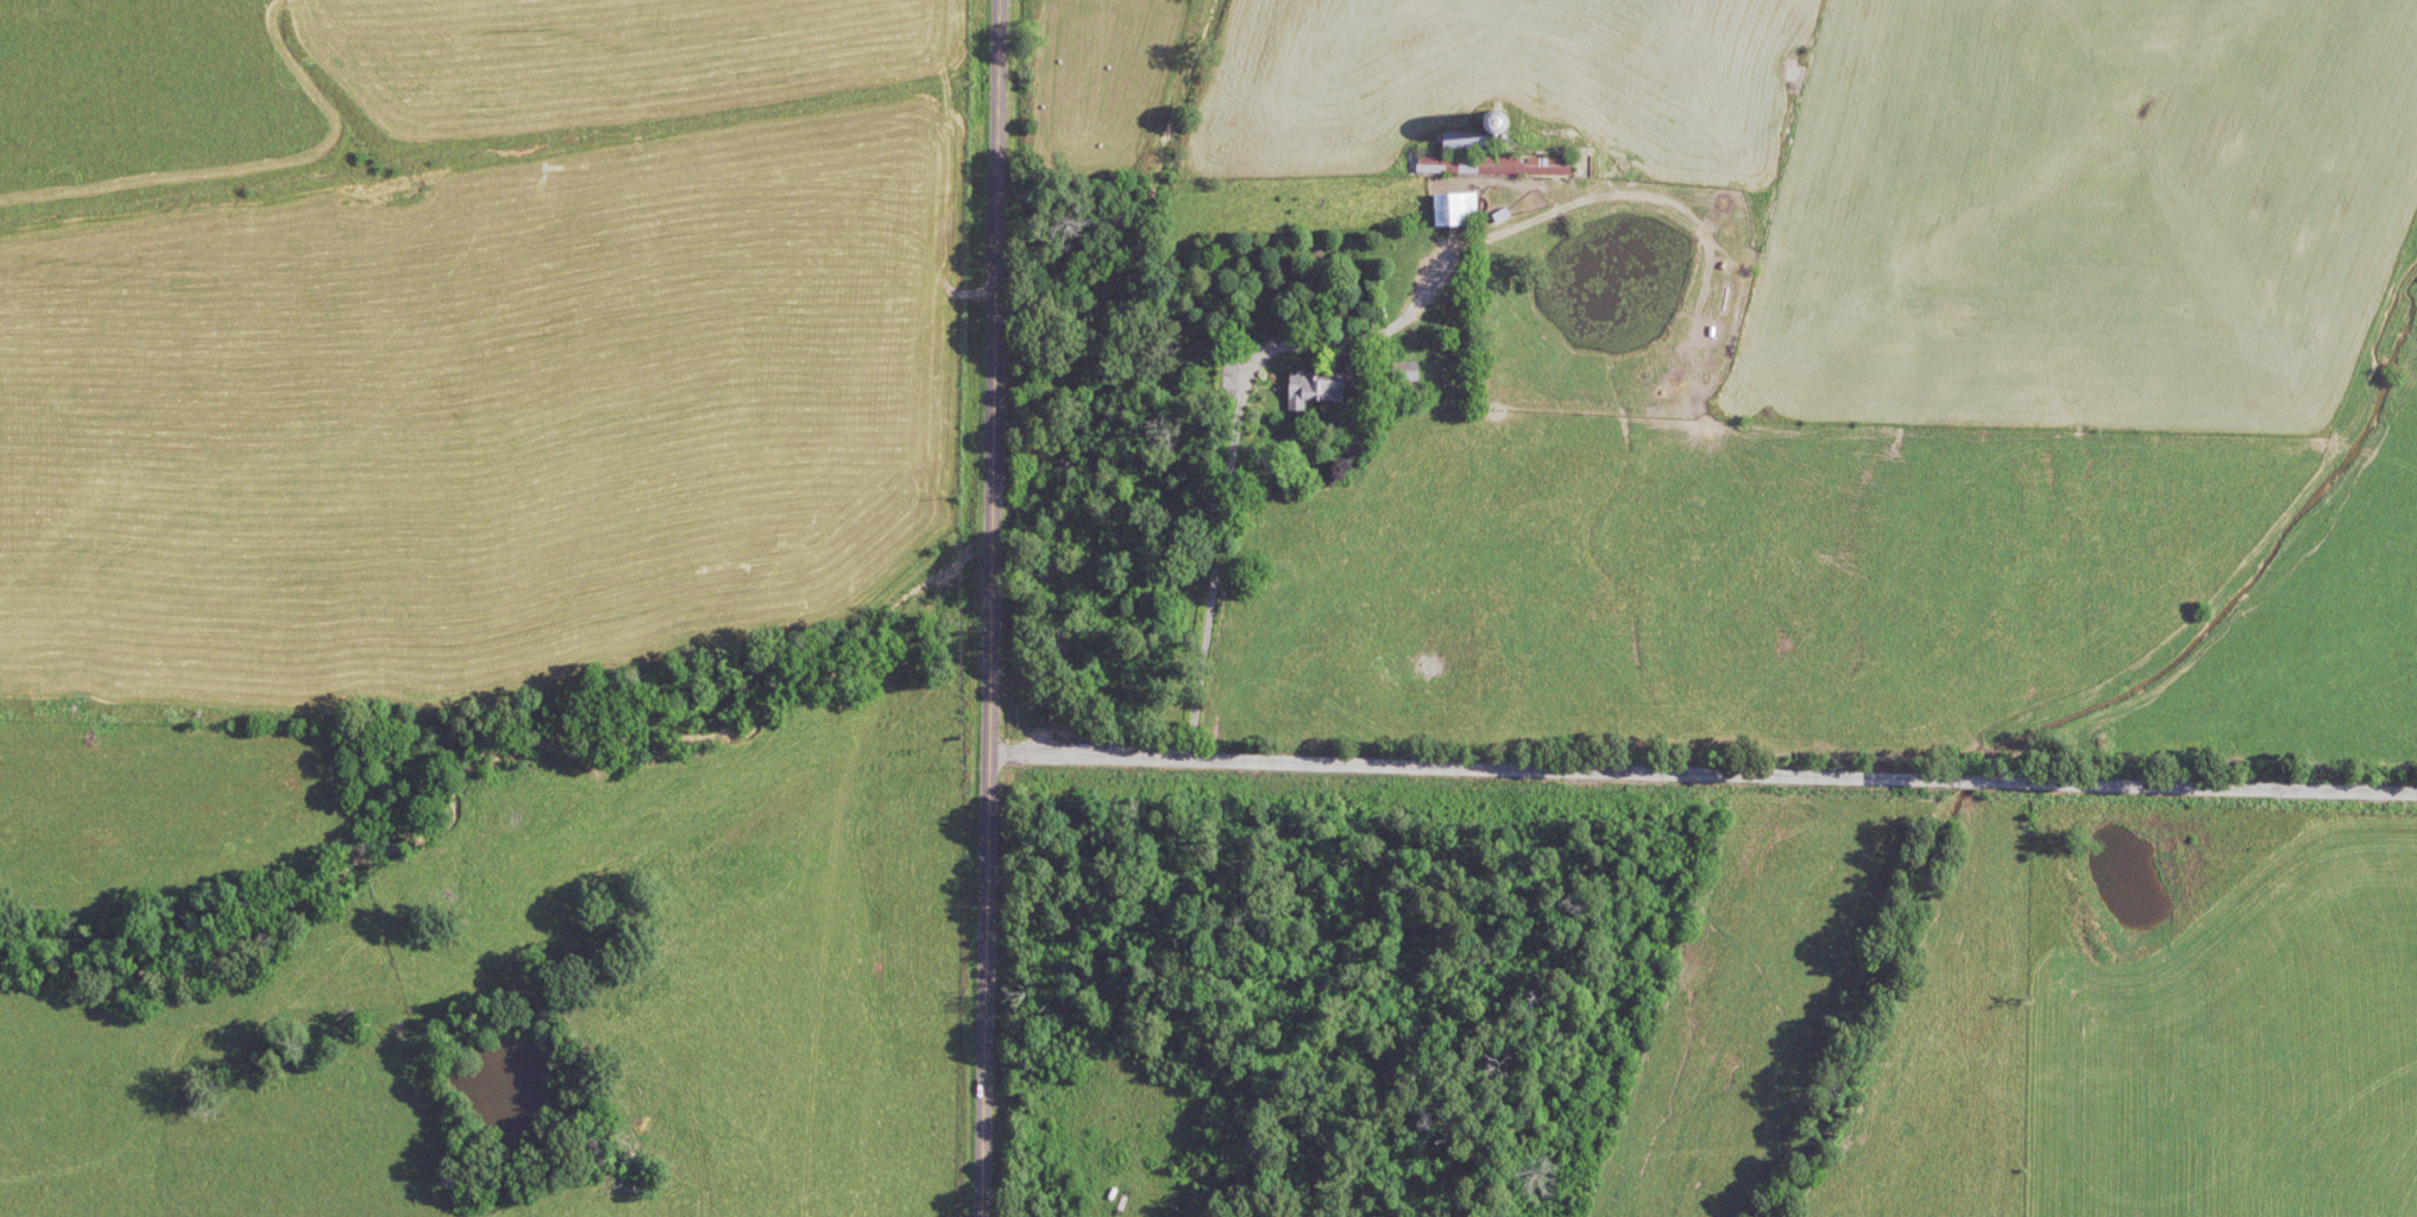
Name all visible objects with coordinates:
building: (1464, 146)
building: (1524, 169)
building: (1454, 213)
building: (1403, 377)
building: (1313, 392)
road: (990, 608)
road: (1025, 688)
road: (1701, 769)

